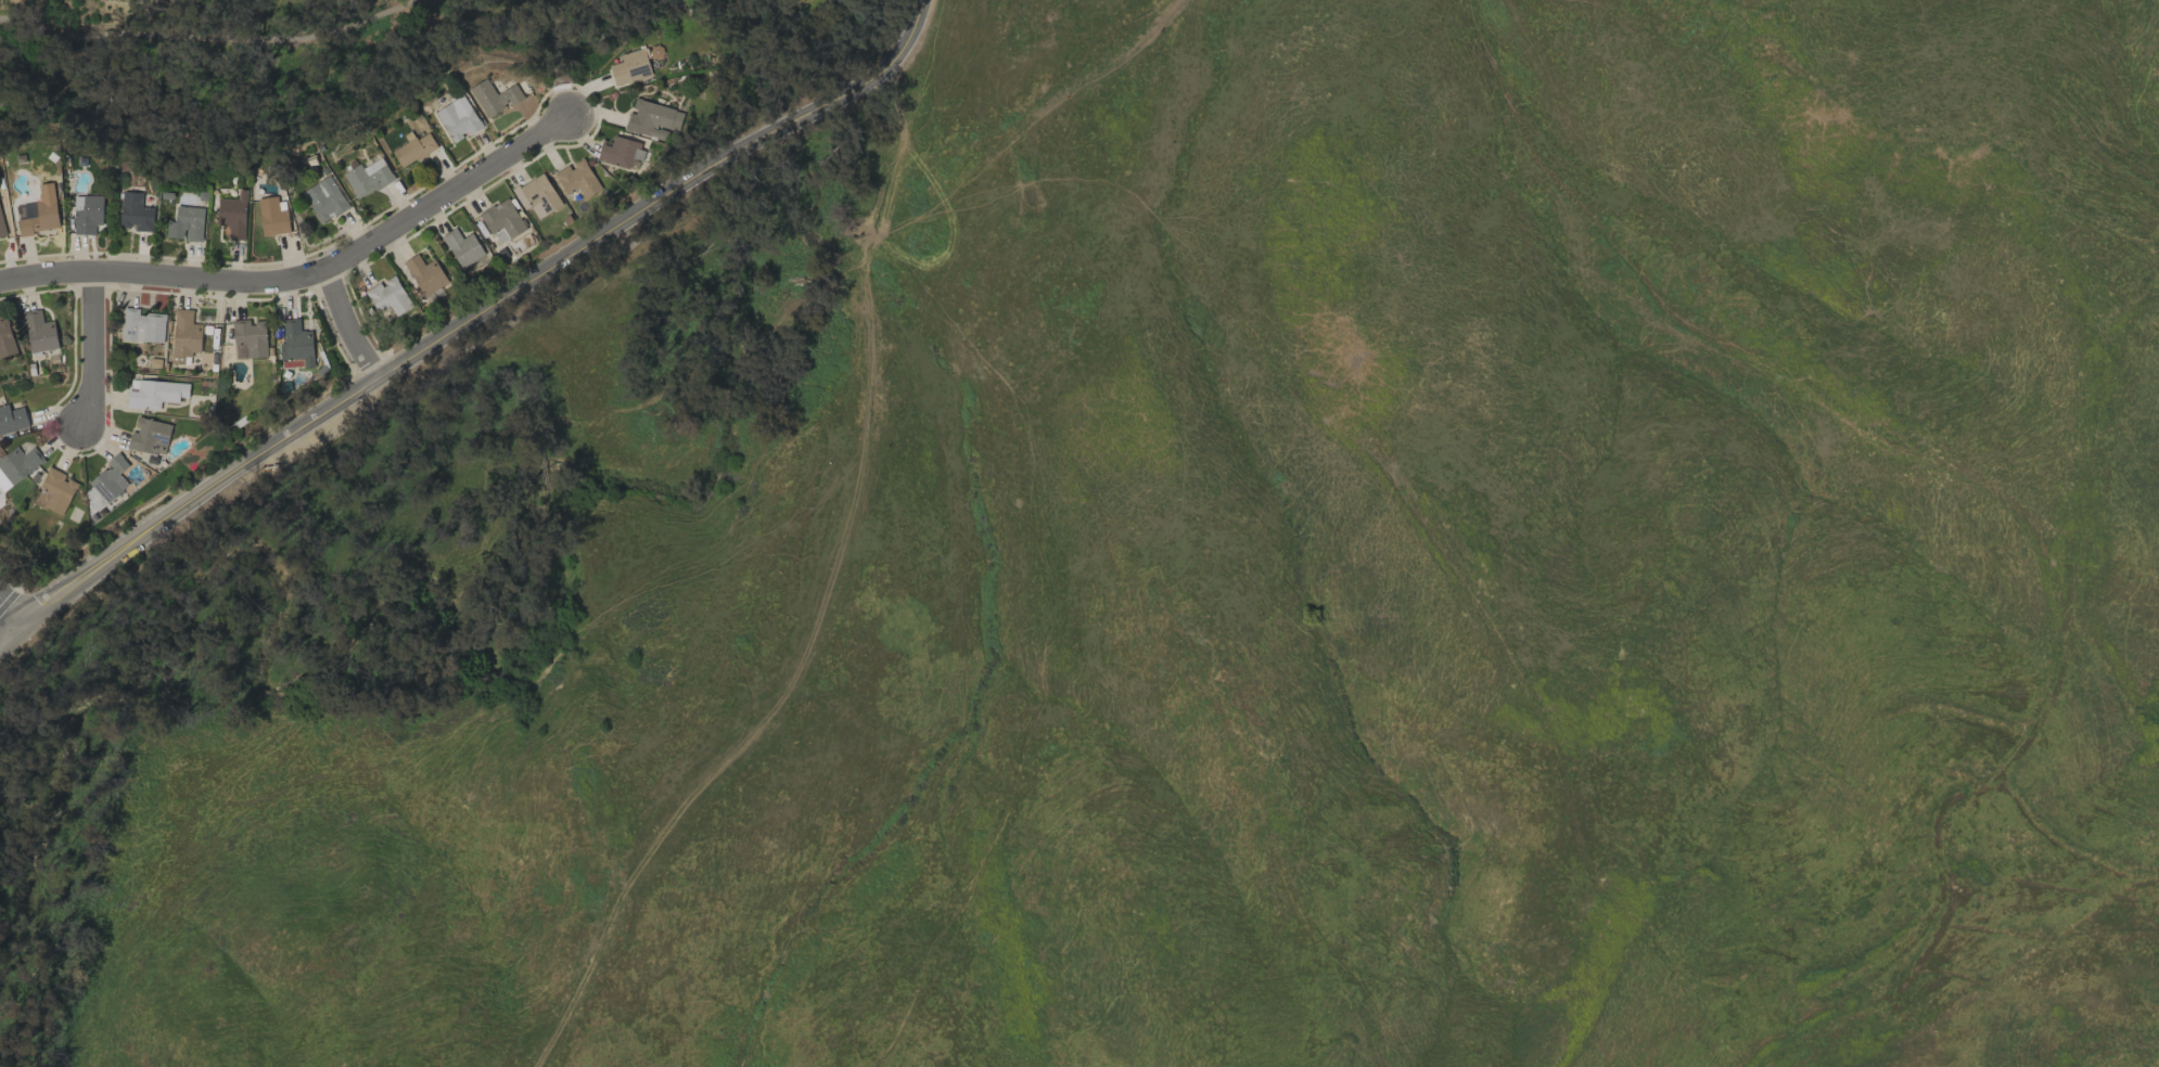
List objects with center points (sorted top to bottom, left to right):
road: (207, 40)
park: (800, 50)
road: (550, 59)
building: (629, 66)
park: (276, 69)
building: (494, 97)
building: (458, 118)
building: (652, 119)
building: (413, 150)
building: (621, 152)
building: (367, 177)
building: (577, 179)
building: (537, 196)
building: (324, 198)
building: (135, 213)
building: (87, 214)
building: (232, 215)
building: (271, 216)
building: (40, 218)
building: (502, 221)
building: (186, 223)
building: (1, 227)
building: (462, 247)
building: (425, 273)
road: (306, 277)
building: (388, 295)
road: (469, 321)
road: (348, 324)
building: (141, 326)
building: (38, 332)
building: (184, 336)
building: (5, 338)
building: (250, 338)
building: (296, 343)
road: (92, 351)
building: (155, 393)
building: (12, 419)
building: (150, 436)
building: (16, 465)
building: (110, 478)
building: (56, 490)
road: (8, 612)

